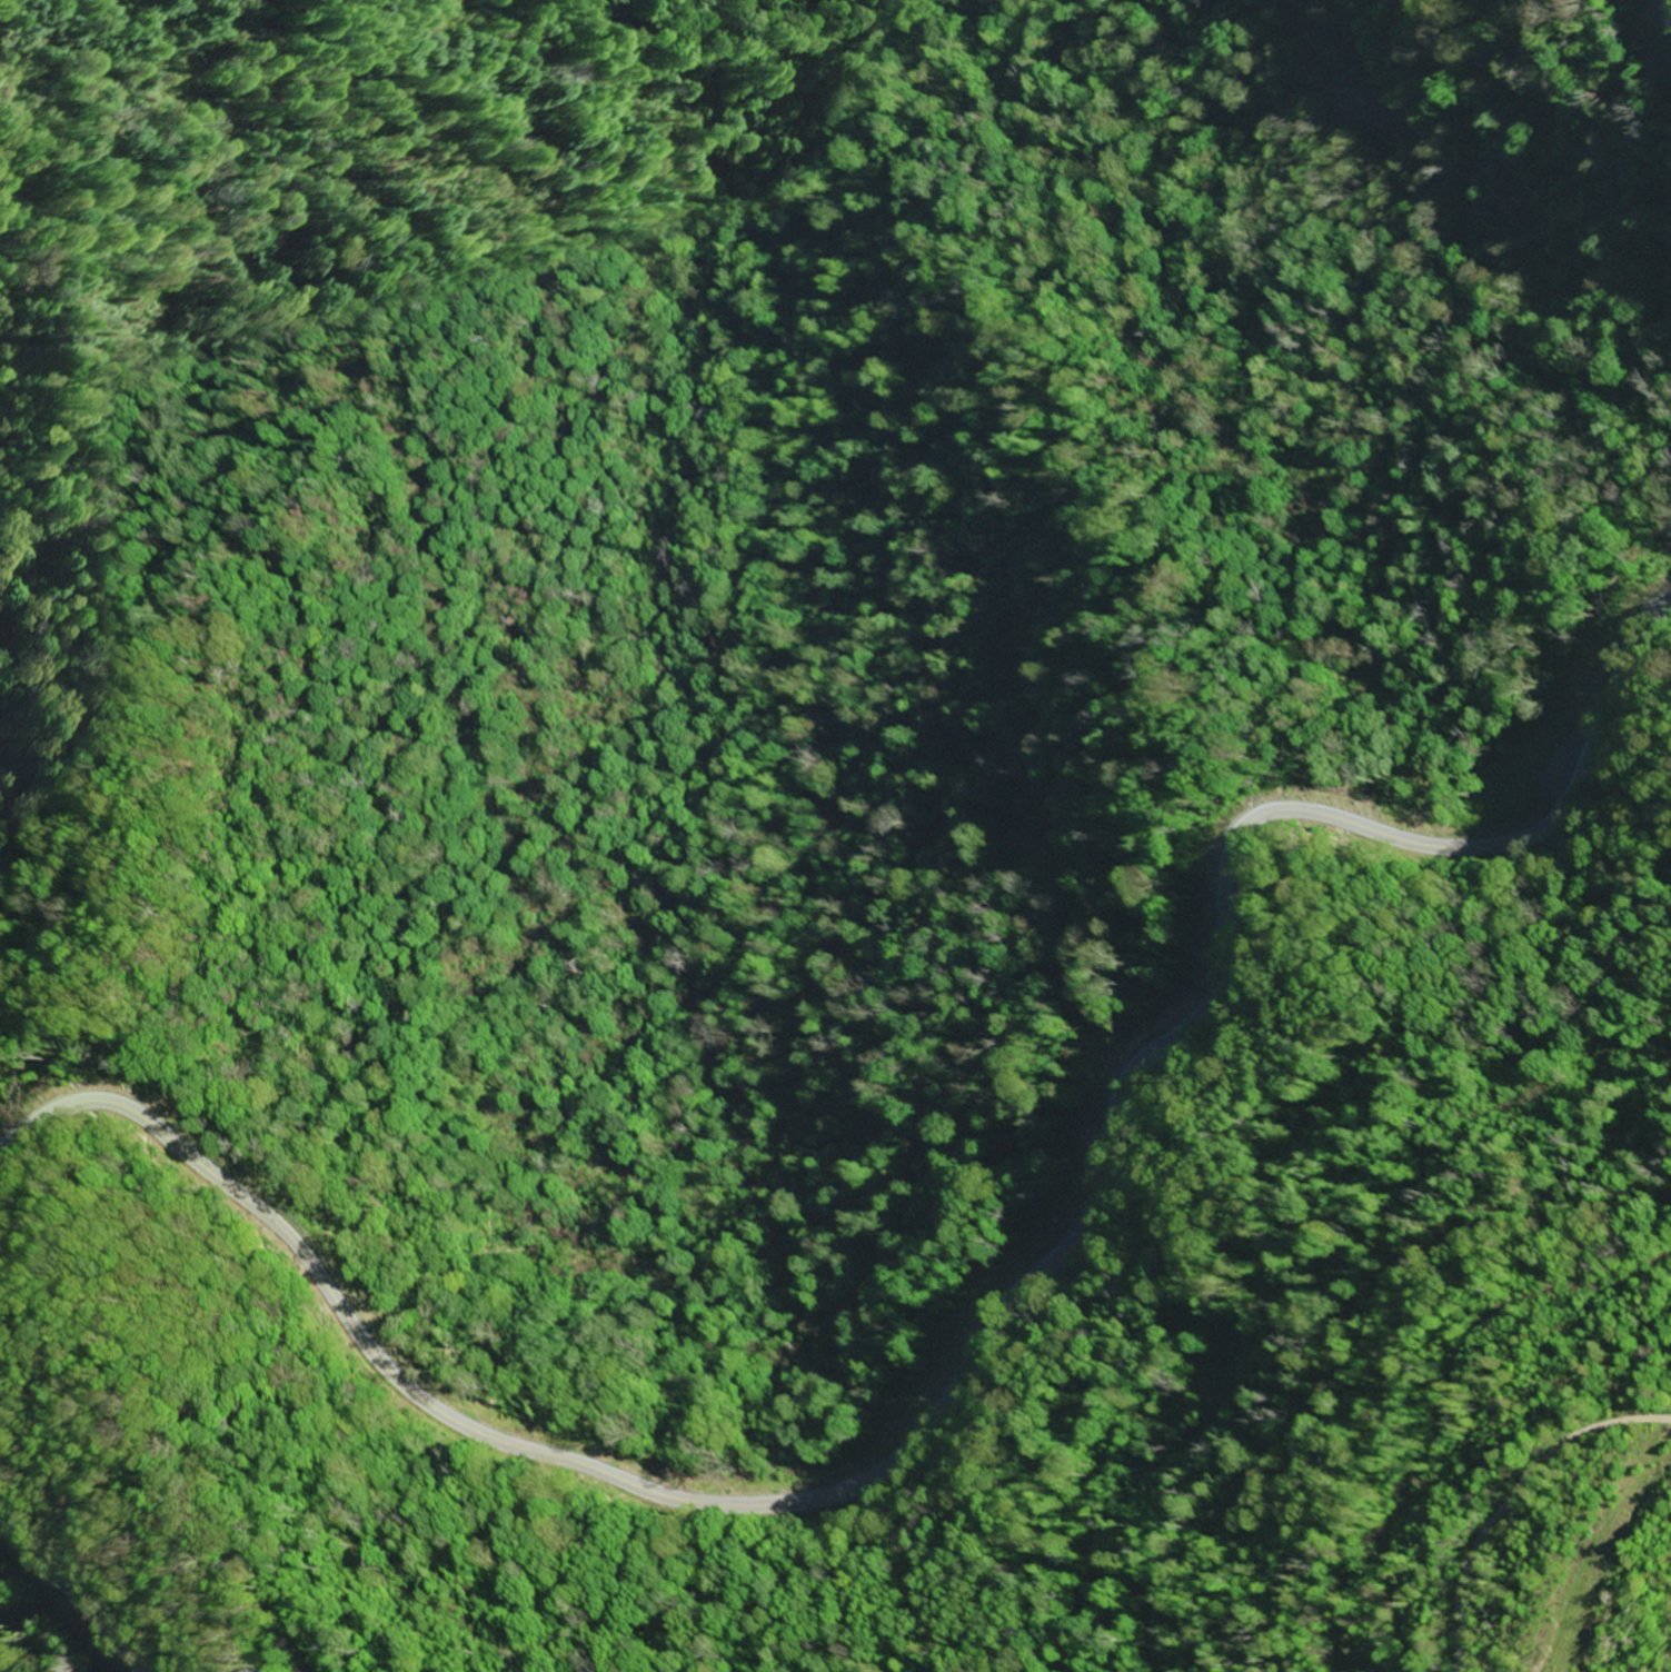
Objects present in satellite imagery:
building: (922, 947)
building: (36, 1166)
road: (971, 1364)
building: (491, 1456)
road: (1528, 1519)
road: (76, 1585)

